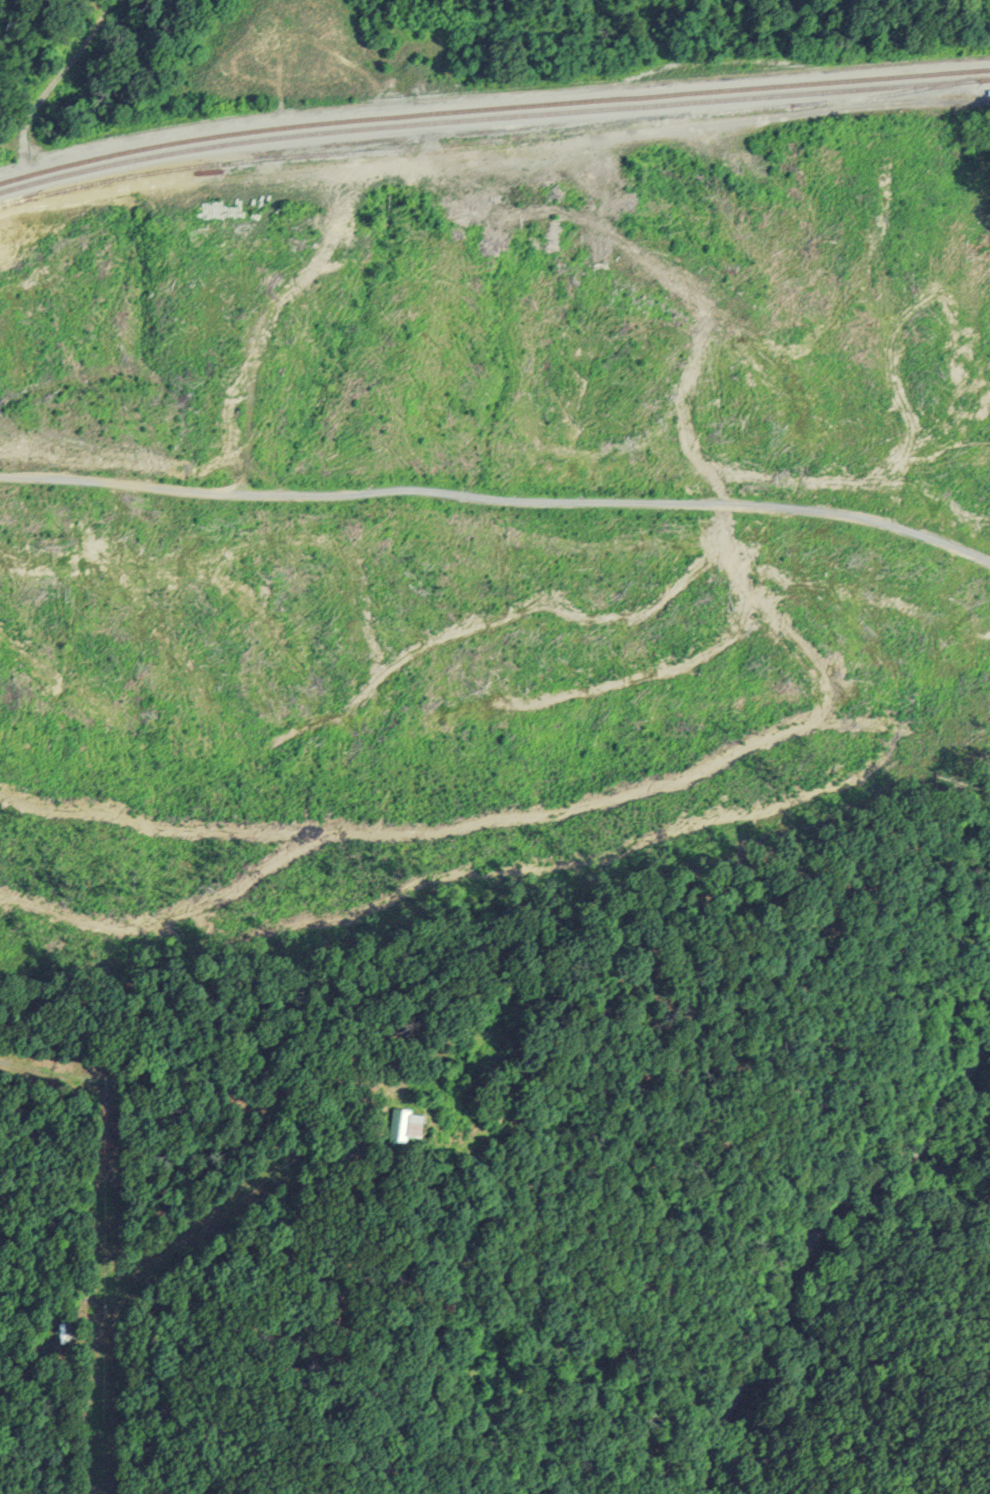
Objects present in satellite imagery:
railway: (492, 110)
railway: (492, 120)
railway: (583, 130)
road: (261, 326)
road: (239, 483)
road: (498, 502)
road: (286, 1137)
road: (812, 1250)

